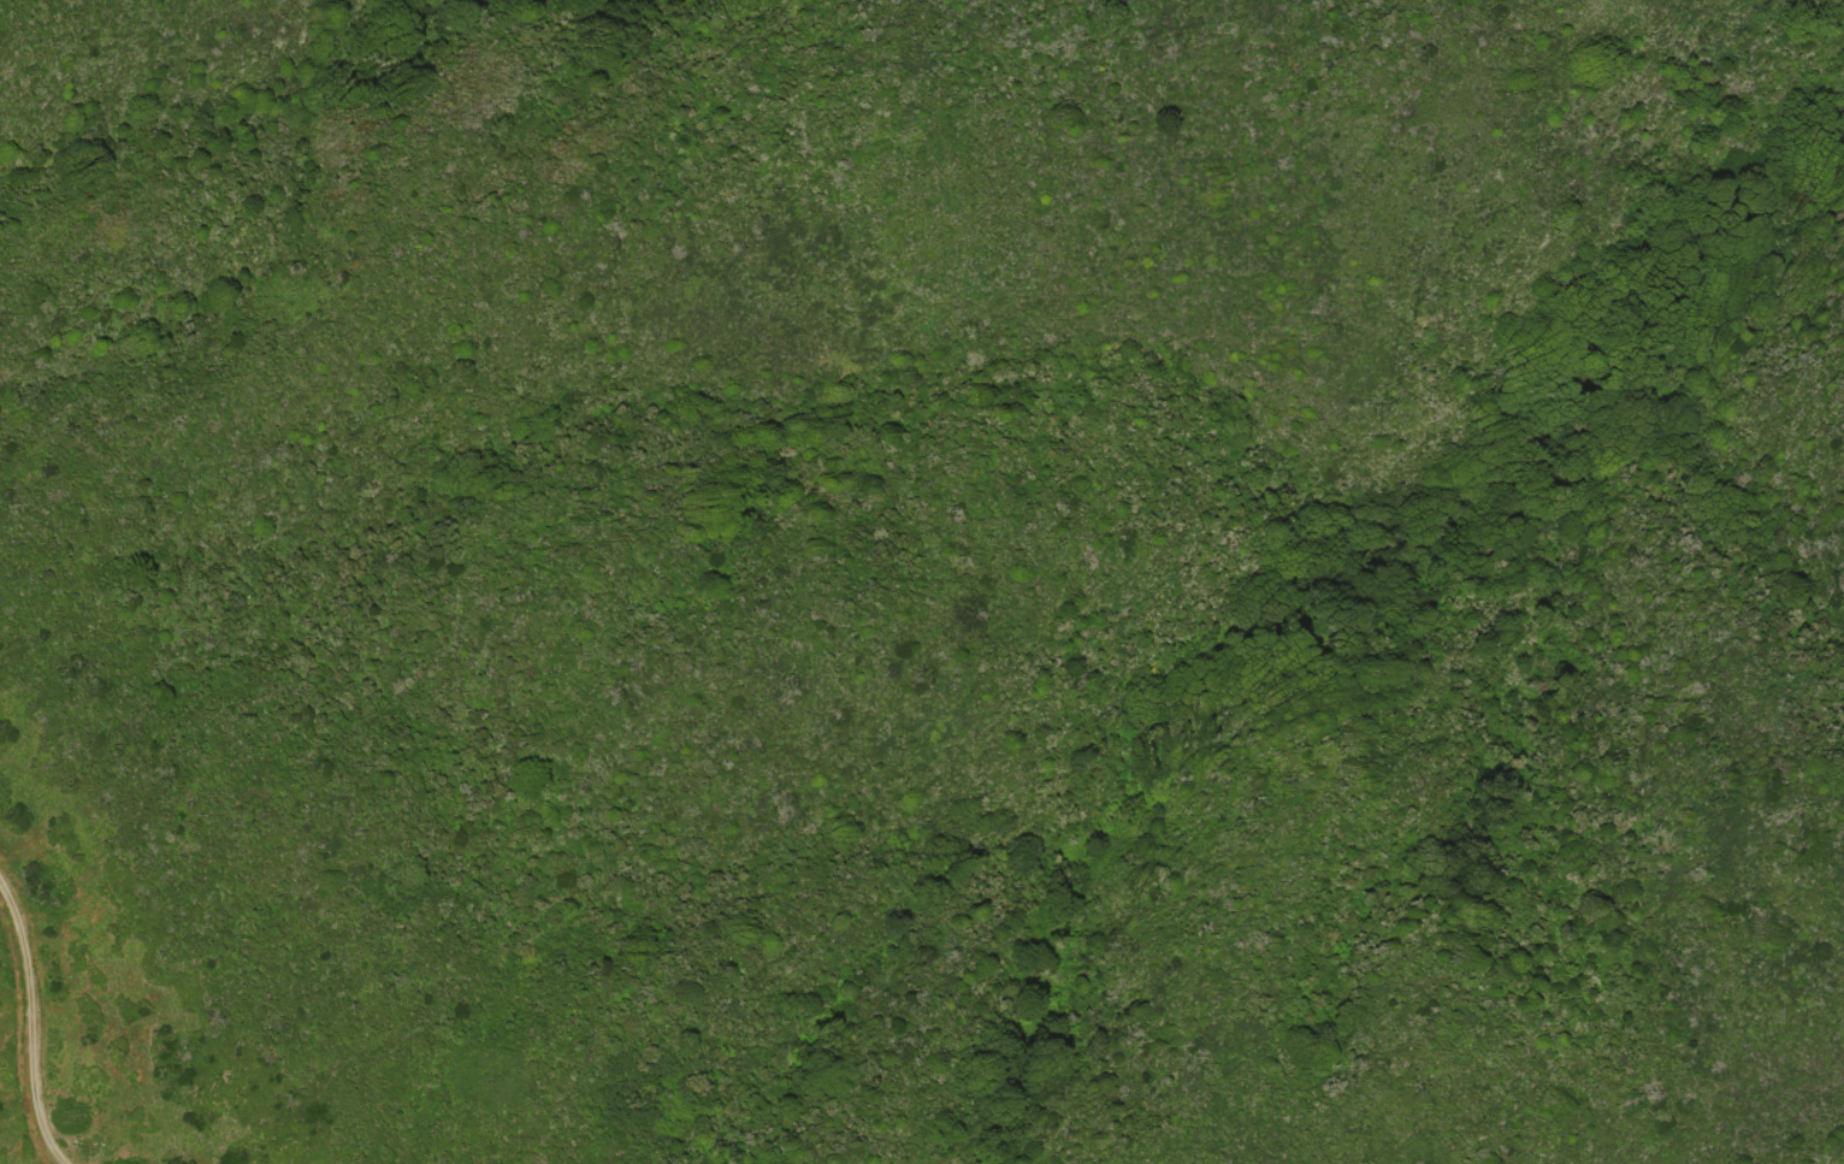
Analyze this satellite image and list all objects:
road: (37, 1017)

